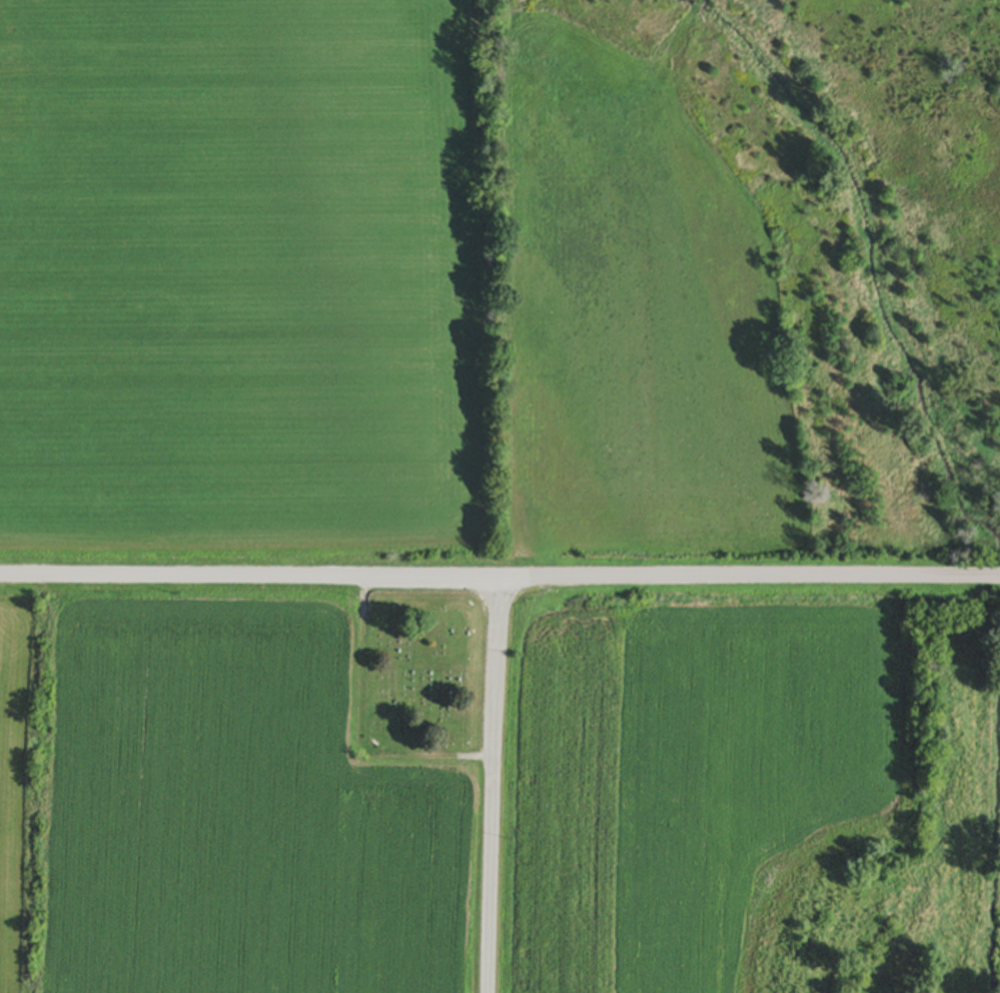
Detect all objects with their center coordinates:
road: (500, 573)
park: (415, 672)
road: (489, 783)

